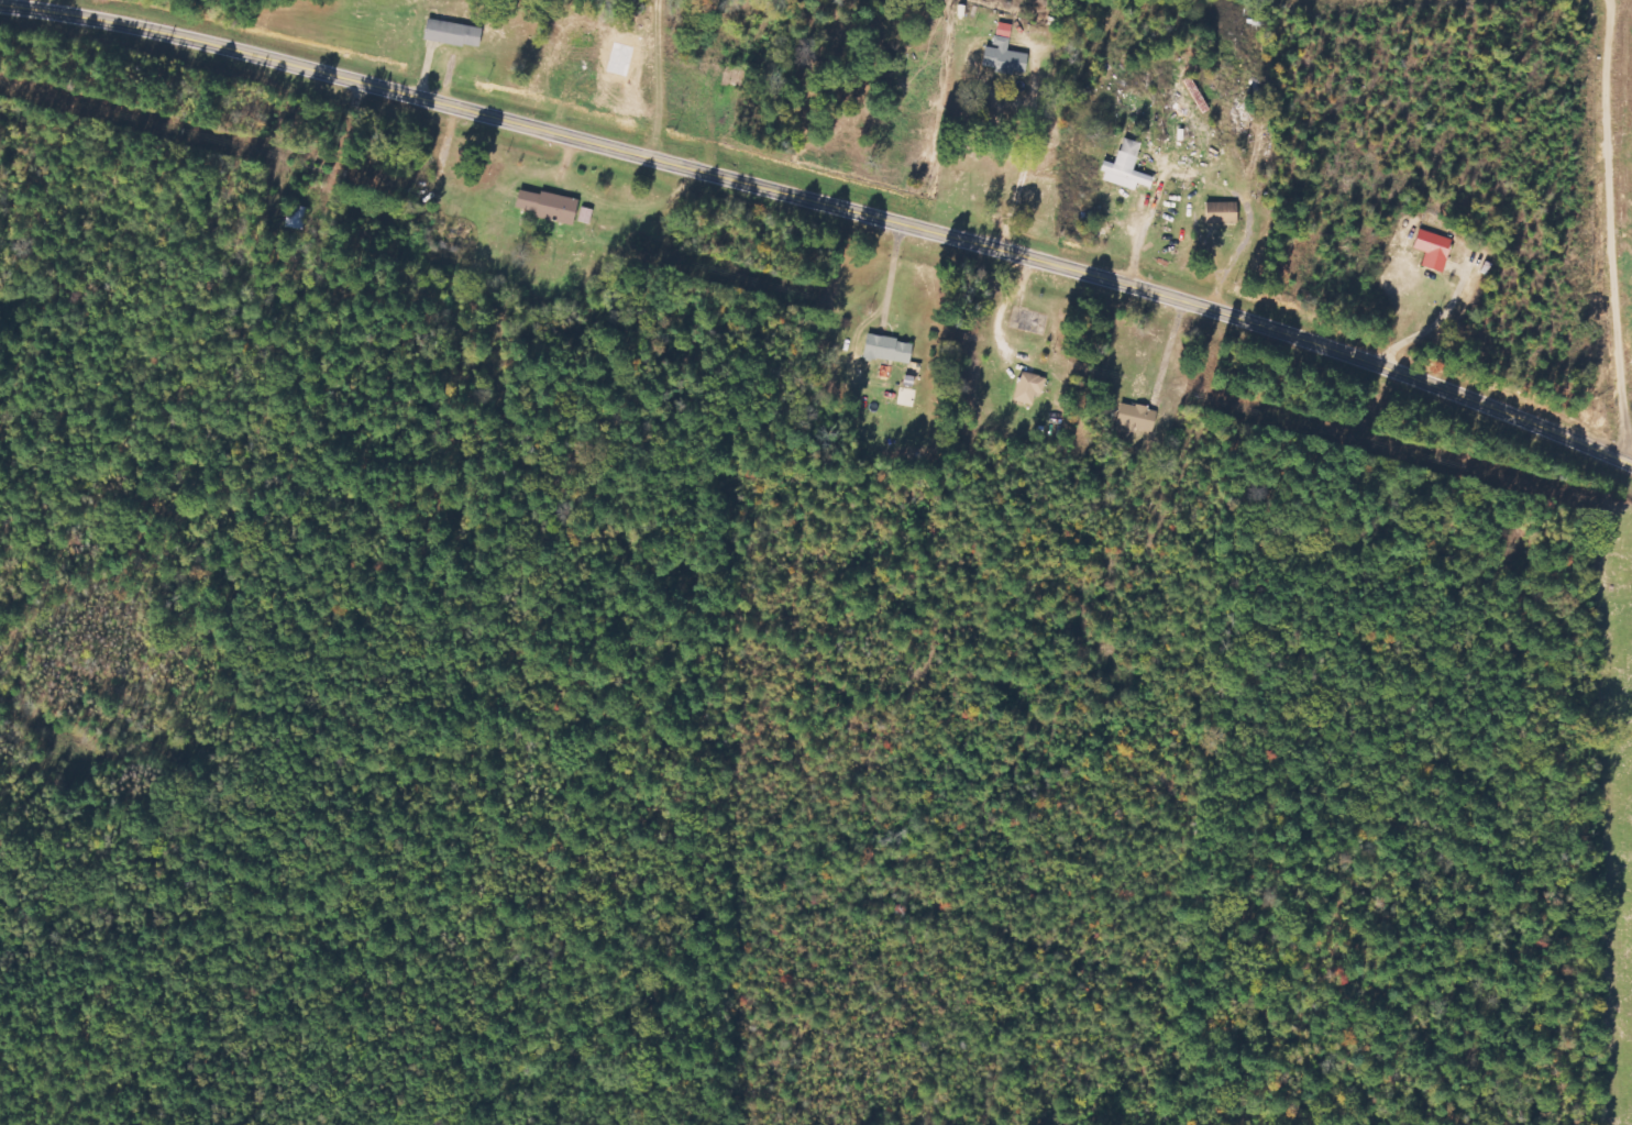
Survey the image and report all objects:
building: (450, 33)
building: (1001, 54)
building: (1123, 167)
road: (826, 201)
building: (543, 206)
building: (1219, 213)
building: (1431, 250)
building: (885, 349)
building: (1026, 387)
building: (1134, 417)

